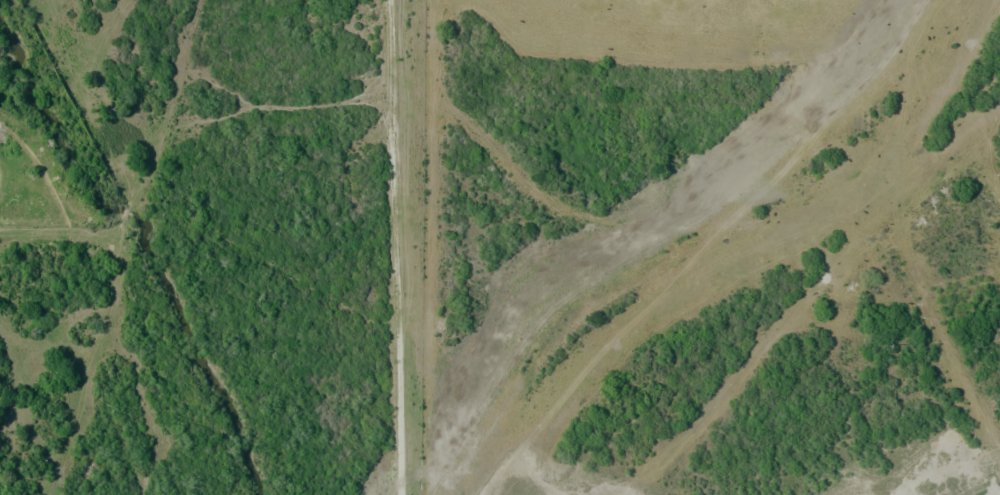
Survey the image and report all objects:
road: (398, 247)

